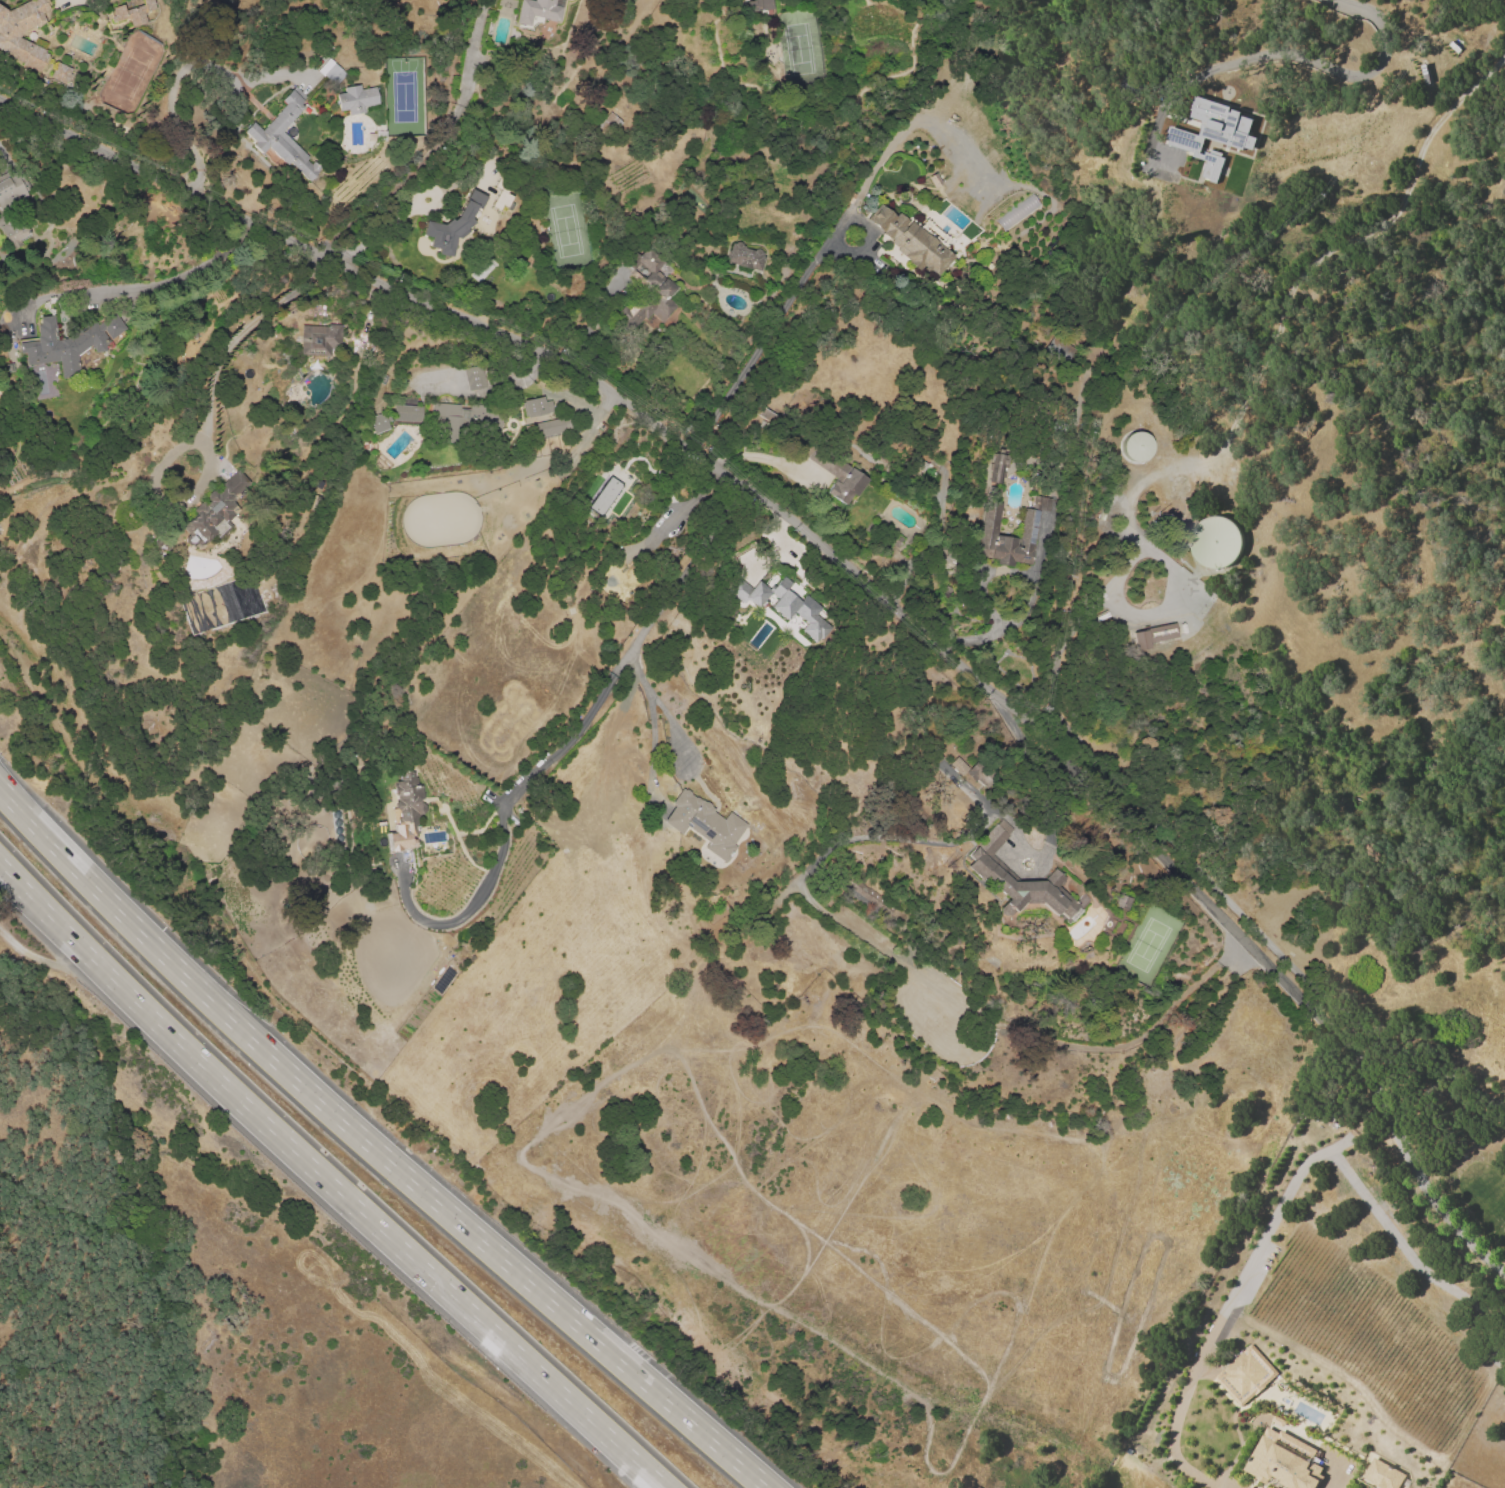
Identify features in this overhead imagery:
building: (755, 5)
building: (538, 10)
building: (131, 13)
building: (16, 43)
road: (1312, 62)
road: (180, 71)
building: (61, 73)
building: (334, 73)
building: (355, 99)
building: (1212, 133)
building: (284, 135)
building: (11, 192)
building: (454, 224)
road: (382, 229)
building: (14, 232)
building: (913, 240)
road: (1344, 248)
building: (745, 256)
road: (168, 279)
building: (652, 287)
building: (675, 297)
road: (240, 331)
road: (768, 331)
building: (320, 339)
building: (69, 342)
building: (1057, 350)
building: (476, 377)
building: (537, 406)
building: (406, 413)
building: (446, 419)
building: (377, 424)
building: (497, 424)
building: (547, 427)
building: (1134, 446)
storage tank: (1134, 446)
building: (996, 468)
road: (721, 472)
building: (836, 474)
building: (1178, 486)
storage tank: (1178, 486)
building: (604, 496)
building: (314, 505)
road: (683, 506)
building: (214, 511)
building: (1030, 523)
building: (1214, 541)
storage tank: (1214, 541)
building: (898, 542)
road: (987, 574)
road: (1113, 575)
road: (1176, 599)
building: (783, 604)
building: (1153, 635)
road: (657, 702)
road: (564, 743)
building: (957, 765)
building: (979, 772)
road: (5, 784)
road: (5, 786)
building: (409, 801)
building: (705, 824)
building: (992, 874)
building: (1121, 901)
road: (1406, 1151)
road: (379, 1152)
road: (327, 1181)
road: (1203, 1347)
building: (1243, 1373)
building: (1282, 1466)
building: (1383, 1475)
road: (1335, 1476)

